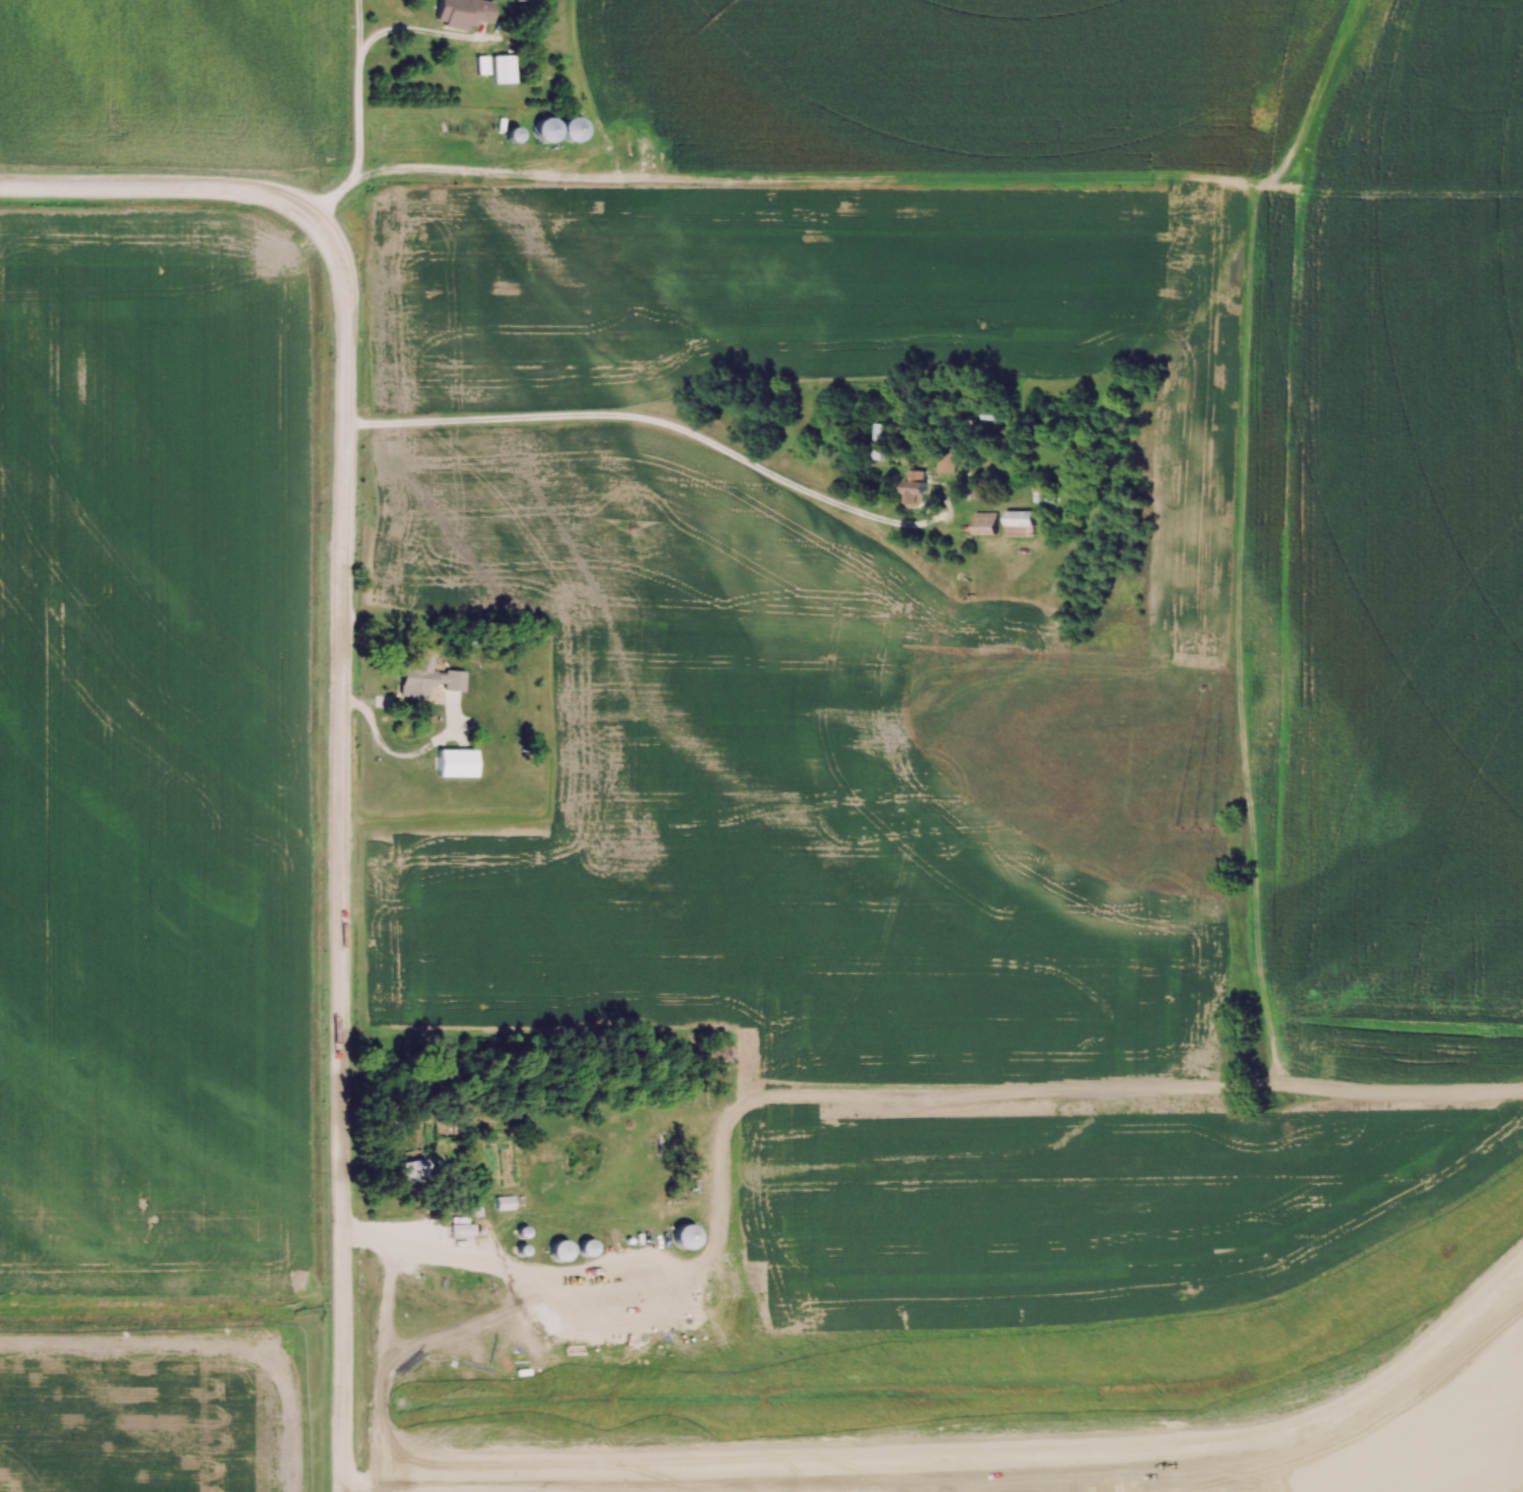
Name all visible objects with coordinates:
road: (358, 20)
road: (351, 87)
road: (652, 420)
road: (335, 691)
road: (463, 1257)

